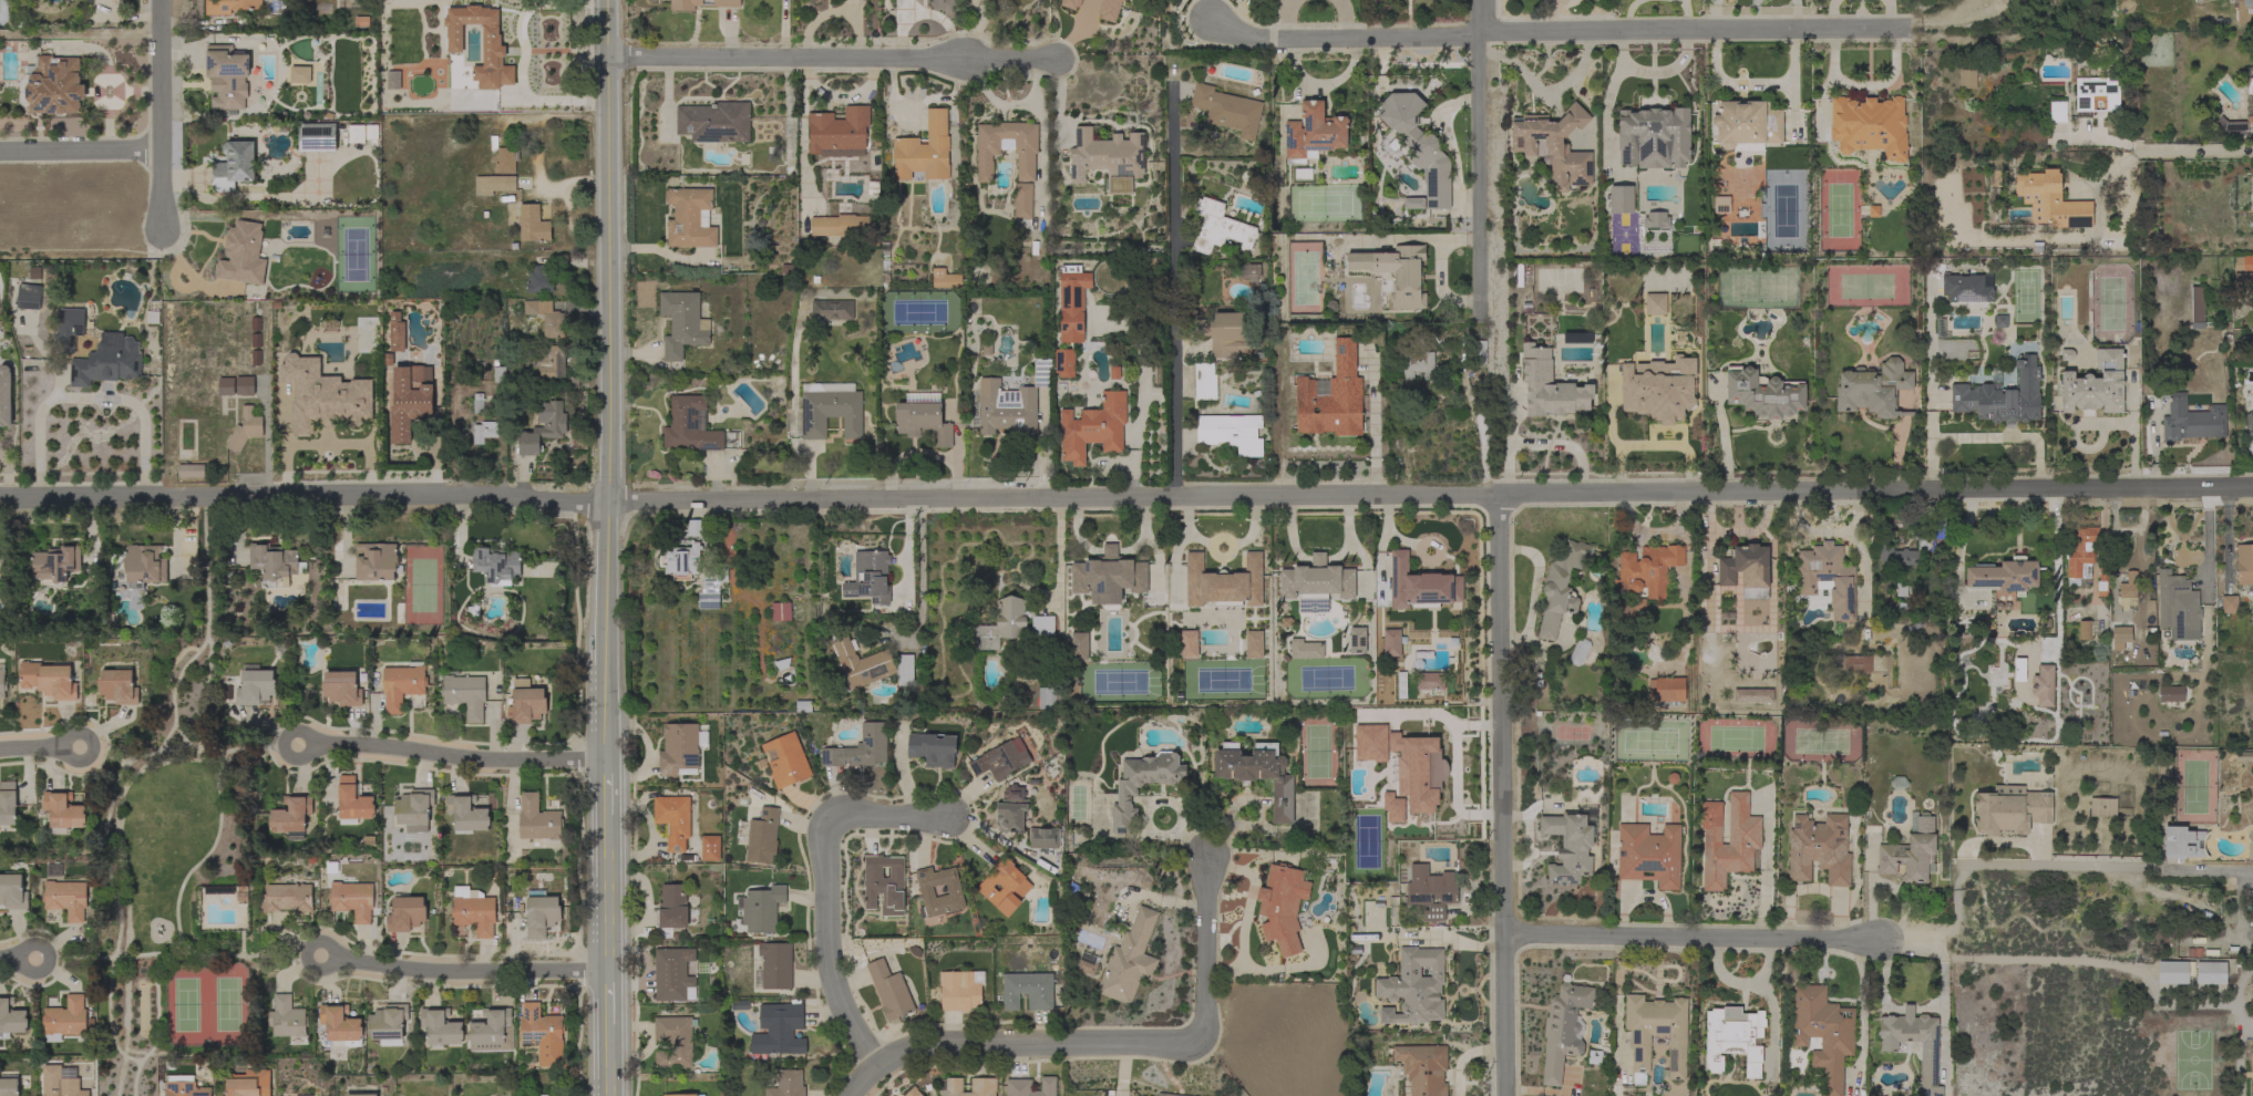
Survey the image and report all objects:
building: (1122, 0)
building: (700, 3)
building: (1069, 3)
building: (229, 6)
building: (1108, 9)
building: (2244, 11)
road: (1561, 32)
building: (492, 49)
road: (832, 56)
building: (298, 74)
building: (227, 76)
building: (1967, 79)
building: (2249, 79)
building: (52, 86)
building: (2096, 94)
building: (2250, 103)
building: (1227, 110)
building: (2057, 112)
road: (158, 114)
building: (714, 122)
building: (1747, 125)
building: (2233, 125)
building: (1869, 126)
building: (839, 132)
building: (457, 133)
building: (1313, 133)
building: (356, 134)
building: (317, 135)
road: (2096, 136)
building: (1654, 137)
building: (1419, 146)
building: (1554, 146)
road: (79, 149)
building: (924, 151)
building: (988, 151)
road: (2191, 151)
building: (1105, 155)
building: (504, 157)
road: (1477, 157)
building: (234, 166)
building: (1994, 177)
building: (493, 184)
building: (1621, 199)
building: (1022, 200)
building: (2054, 200)
building: (1413, 203)
building: (1721, 205)
building: (690, 218)
building: (1656, 219)
building: (533, 224)
building: (841, 225)
building: (1220, 228)
building: (243, 254)
building: (1248, 271)
building: (1396, 272)
building: (2243, 273)
building: (945, 278)
building: (539, 279)
road: (1174, 288)
building: (1968, 290)
building: (28, 297)
building: (1655, 303)
building: (1072, 304)
building: (2197, 307)
building: (832, 310)
building: (152, 317)
building: (546, 317)
building: (1999, 321)
building: (681, 323)
building: (69, 328)
building: (394, 331)
building: (1225, 334)
building: (107, 361)
building: (551, 361)
building: (1063, 363)
building: (1417, 364)
building: (1041, 372)
building: (498, 374)
building: (1204, 382)
building: (244, 385)
building: (1549, 385)
building: (2095, 385)
building: (226, 386)
building: (1659, 389)
building: (1873, 389)
building: (1763, 393)
building: (2003, 393)
building: (4, 395)
building: (322, 395)
building: (1331, 396)
road: (90, 397)
building: (408, 401)
building: (477, 403)
building: (1006, 407)
building: (830, 409)
building: (923, 418)
building: (2191, 421)
building: (2249, 424)
building: (690, 425)
building: (543, 427)
building: (1093, 427)
building: (244, 430)
road: (1372, 430)
road: (1478, 430)
building: (484, 432)
building: (1231, 433)
road: (1540, 443)
building: (191, 471)
road: (1125, 499)
building: (695, 527)
road: (608, 547)
building: (1909, 550)
road: (1053, 552)
building: (2080, 555)
building: (272, 560)
building: (680, 561)
building: (55, 562)
building: (377, 562)
building: (2244, 563)
building: (144, 565)
building: (495, 565)
building: (1745, 567)
road: (922, 570)
building: (1646, 570)
building: (2004, 576)
building: (868, 577)
building: (1108, 577)
building: (1827, 578)
building: (1223, 582)
building: (2102, 582)
building: (1316, 583)
building: (1420, 586)
building: (711, 587)
building: (1560, 588)
building: (2128, 590)
building: (2172, 596)
building: (2229, 604)
building: (781, 611)
building: (1011, 623)
building: (2087, 629)
building: (2120, 637)
building: (1357, 640)
building: (1391, 642)
building: (1187, 644)
building: (1254, 644)
building: (1079, 645)
building: (1305, 649)
building: (1578, 651)
building: (857, 663)
building: (1856, 664)
building: (905, 671)
building: (48, 680)
building: (2, 683)
building: (254, 685)
building: (401, 685)
building: (2041, 685)
building: (117, 686)
building: (341, 689)
building: (1669, 690)
building: (2170, 693)
building: (465, 694)
building: (1050, 697)
building: (526, 702)
building: (803, 706)
building: (1369, 743)
building: (680, 748)
building: (860, 748)
building: (932, 748)
road: (40, 749)
road: (452, 756)
building: (2243, 757)
building: (786, 759)
building: (1000, 759)
building: (1417, 771)
building: (1258, 774)
building: (1142, 784)
road: (1504, 795)
building: (352, 799)
road: (1153, 803)
building: (8, 804)
building: (2102, 807)
building: (1392, 808)
building: (414, 809)
building: (2010, 809)
building: (63, 811)
building: (291, 814)
building: (466, 814)
building: (1010, 817)
building: (537, 819)
building: (673, 819)
road: (888, 819)
building: (763, 837)
building: (1043, 838)
building: (1728, 840)
building: (2182, 842)
road: (1191, 844)
building: (1568, 846)
building: (710, 848)
building: (1819, 848)
building: (1910, 852)
building: (1649, 855)
road: (2106, 869)
building: (884, 883)
building: (1005, 887)
building: (954, 890)
building: (1431, 891)
building: (12, 892)
building: (241, 893)
building: (2250, 897)
building: (287, 898)
building: (66, 899)
building: (352, 900)
building: (1282, 906)
building: (672, 907)
building: (762, 909)
building: (474, 911)
building: (405, 913)
building: (541, 913)
road: (1693, 939)
road: (1955, 940)
road: (833, 948)
road: (10, 958)
road: (21, 958)
building: (1130, 960)
building: (1087, 962)
building: (773, 966)
building: (2173, 971)
road: (464, 973)
building: (2211, 973)
building: (672, 974)
building: (1413, 988)
building: (892, 990)
building: (960, 990)
building: (1027, 990)
road: (2233, 994)
building: (735, 1005)
building: (11, 1017)
building: (65, 1017)
building: (287, 1017)
building: (338, 1024)
building: (388, 1024)
building: (440, 1026)
building: (1563, 1028)
building: (779, 1030)
building: (492, 1031)
building: (1823, 1033)
building: (542, 1034)
building: (1656, 1034)
building: (1734, 1041)
building: (673, 1042)
building: (2252, 1042)
road: (1109, 1045)
building: (1928, 1046)
building: (1595, 1057)
building: (1423, 1068)
building: (2252, 1073)
building: (248, 1083)
building: (788, 1084)
building: (183, 1086)
building: (9, 1087)
building: (971, 1087)
building: (1030, 1087)
building: (66, 1090)
building: (913, 1092)
building: (301, 1095)
building: (361, 1095)
building: (541, 1095)
building: (686, 1095)
building: (1165, 1095)

